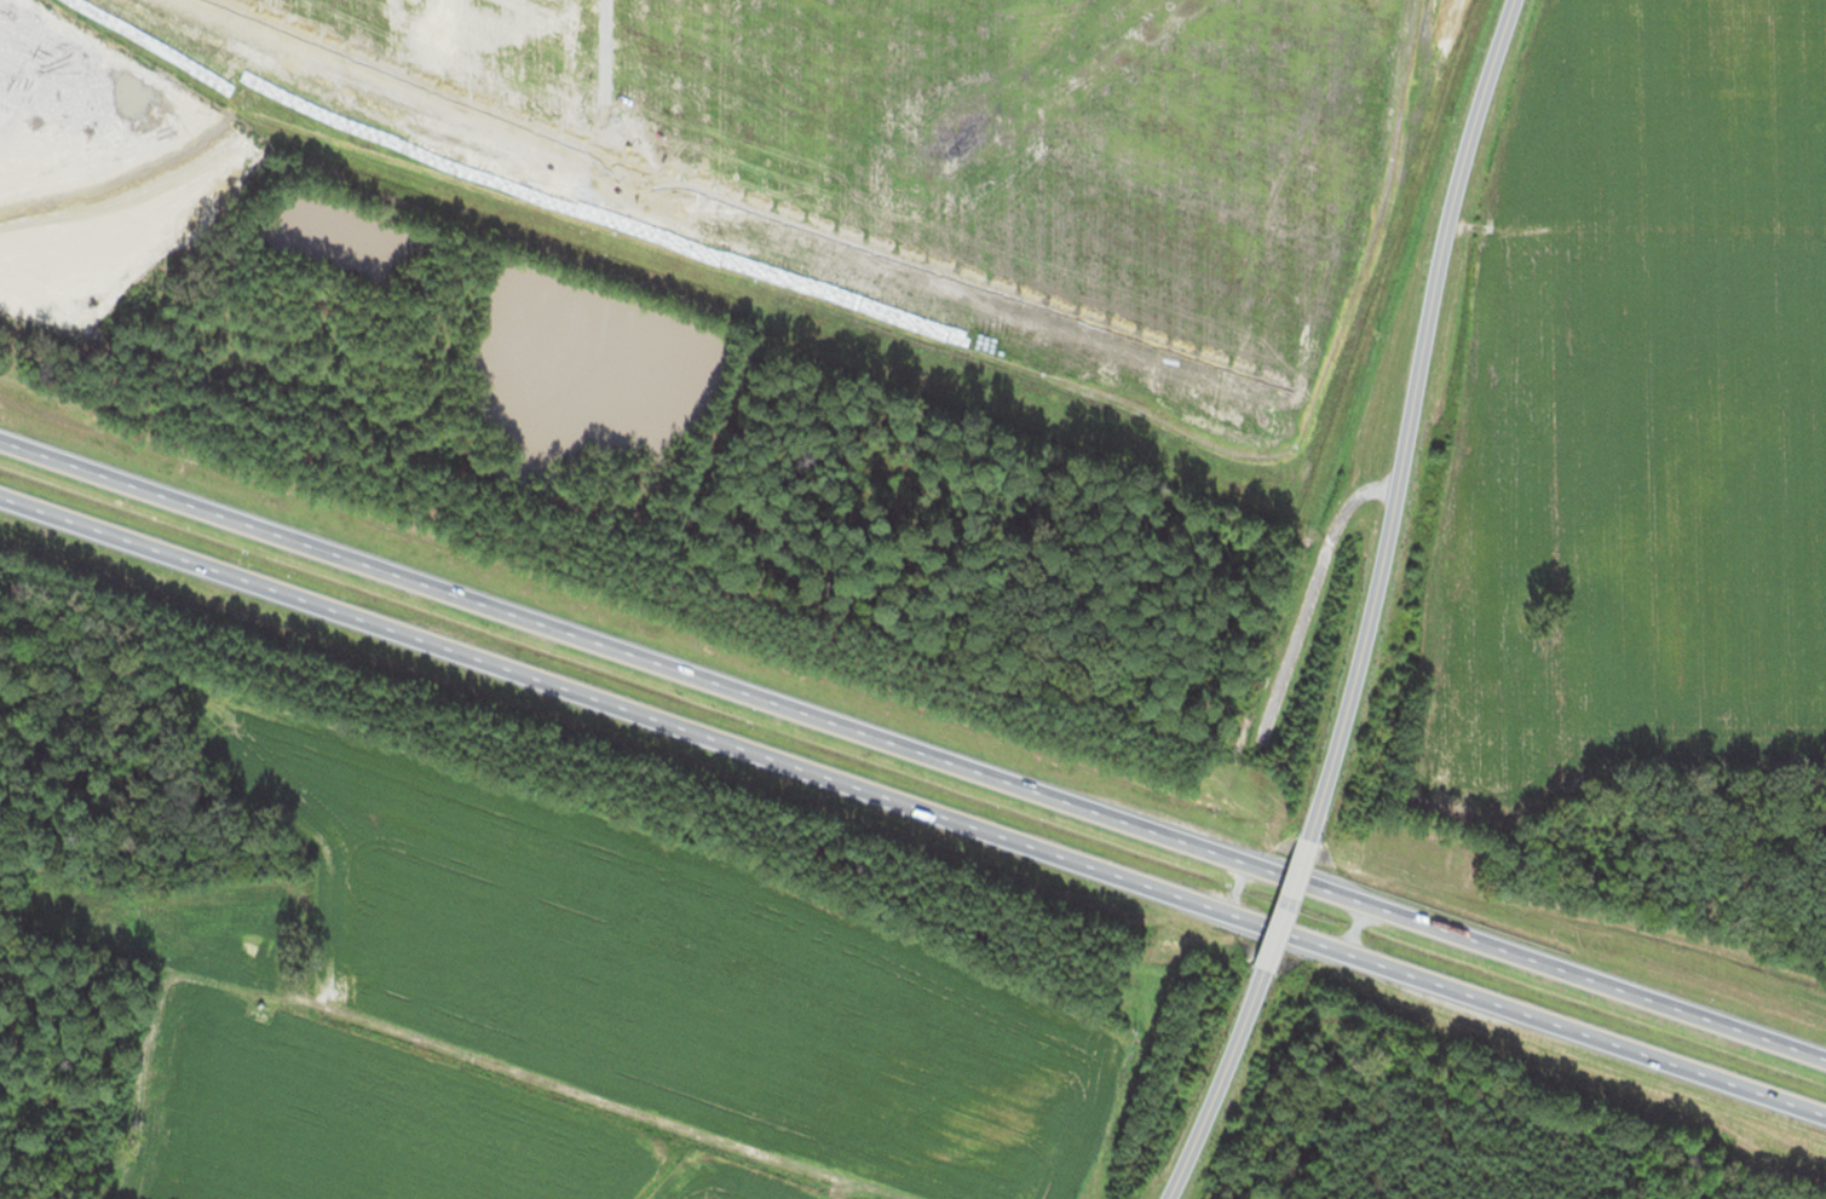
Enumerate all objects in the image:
solar farm: (825, 162)
road: (1407, 419)
road: (911, 749)
road: (914, 808)
road: (1288, 910)
road: (616, 1084)
road: (1211, 1088)

